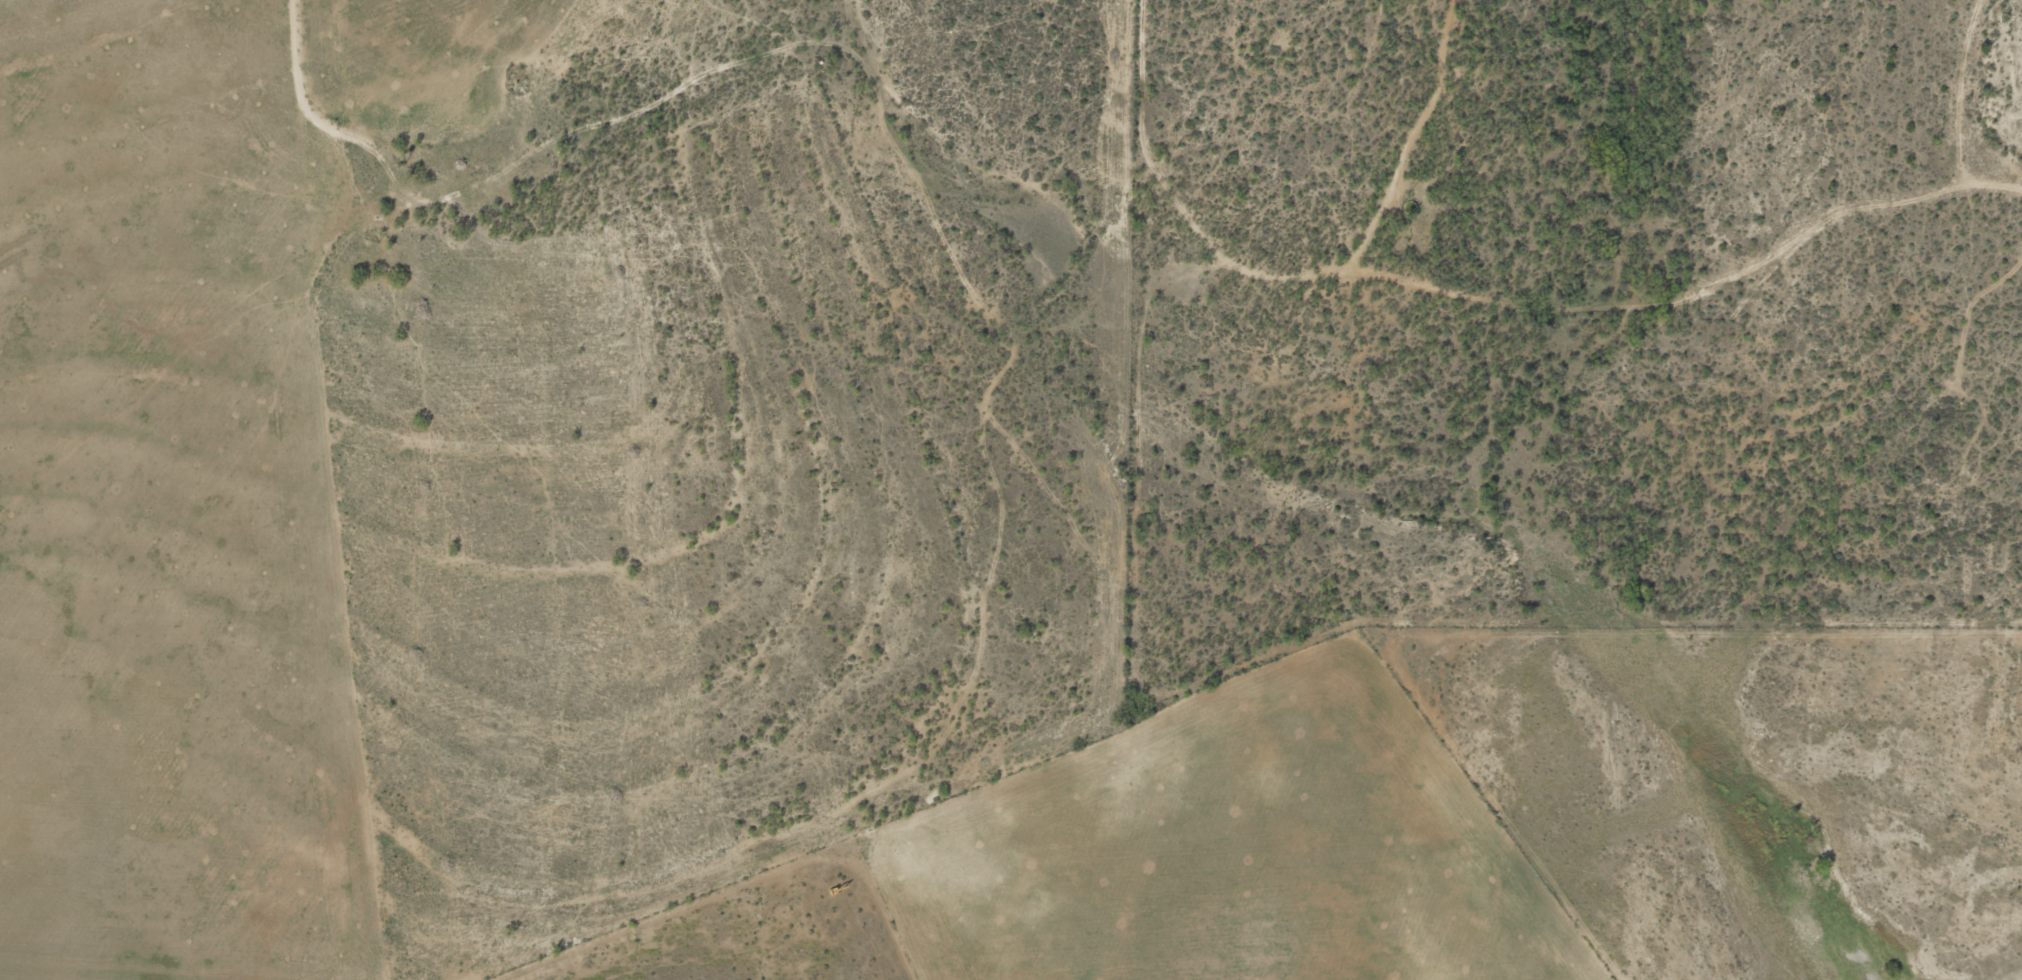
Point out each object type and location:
road: (491, 214)
road: (1686, 305)

